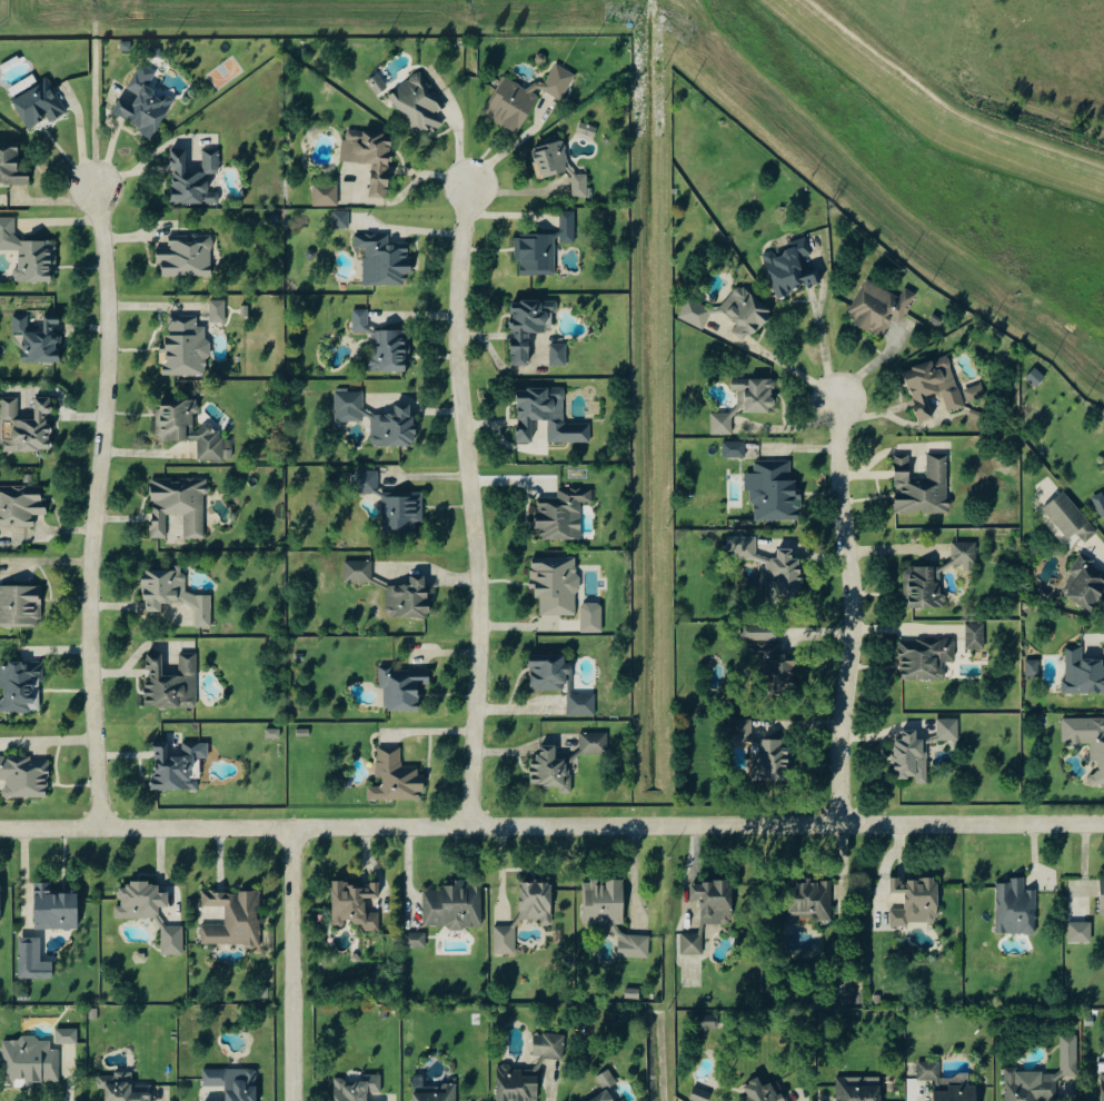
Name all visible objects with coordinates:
building: (378, 85)
building: (526, 98)
building: (145, 102)
building: (40, 103)
building: (419, 103)
building: (588, 129)
building: (371, 157)
building: (11, 165)
building: (560, 167)
building: (195, 178)
building: (326, 196)
building: (342, 219)
building: (544, 247)
building: (29, 254)
building: (187, 257)
building: (385, 259)
building: (793, 268)
building: (881, 307)
building: (218, 311)
building: (696, 313)
building: (746, 313)
building: (529, 325)
building: (39, 339)
building: (384, 345)
building: (186, 347)
road: (825, 349)
building: (559, 355)
road: (783, 363)
building: (1036, 377)
building: (934, 386)
building: (976, 393)
building: (755, 394)
building: (350, 406)
building: (548, 416)
building: (723, 424)
building: (28, 426)
building: (395, 427)
building: (190, 429)
building: (735, 449)
building: (369, 482)
building: (922, 486)
building: (775, 490)
road: (474, 503)
building: (1100, 503)
building: (179, 505)
building: (21, 506)
road: (97, 507)
building: (402, 510)
building: (564, 514)
building: (1071, 518)
road: (1101, 545)
building: (744, 547)
building: (359, 572)
building: (785, 572)
building: (939, 577)
building: (1086, 584)
building: (556, 585)
building: (175, 595)
building: (409, 598)
building: (20, 606)
road: (852, 612)
building: (593, 617)
building: (976, 636)
building: (772, 655)
building: (926, 658)
building: (1033, 667)
building: (1083, 673)
building: (172, 683)
building: (21, 687)
building: (402, 687)
building: (583, 705)
building: (949, 730)
building: (273, 733)
building: (1087, 741)
road: (48, 742)
building: (595, 744)
building: (762, 752)
building: (912, 757)
building: (178, 765)
building: (551, 771)
building: (26, 776)
building: (397, 778)
road: (551, 825)
building: (1102, 897)
building: (141, 901)
building: (537, 902)
building: (605, 902)
building: (812, 902)
building: (916, 902)
building: (0, 904)
building: (356, 905)
building: (454, 906)
building: (56, 909)
building: (1016, 909)
building: (709, 913)
building: (235, 919)
building: (1081, 932)
building: (172, 940)
building: (416, 940)
building: (506, 940)
building: (635, 945)
building: (33, 961)
road: (292, 963)
building: (634, 993)
building: (706, 1022)
building: (68, 1036)
building: (549, 1045)
building: (31, 1062)
building: (932, 1072)
building: (1044, 1077)
building: (607, 1080)
building: (233, 1083)
building: (519, 1083)
building: (1103, 1085)
building: (122, 1088)
building: (358, 1088)
building: (859, 1089)
road: (553, 1090)
building: (432, 1091)
building: (765, 1092)
building: (958, 1093)
building: (702, 1095)
building: (605, 1097)
building: (624, 1100)

